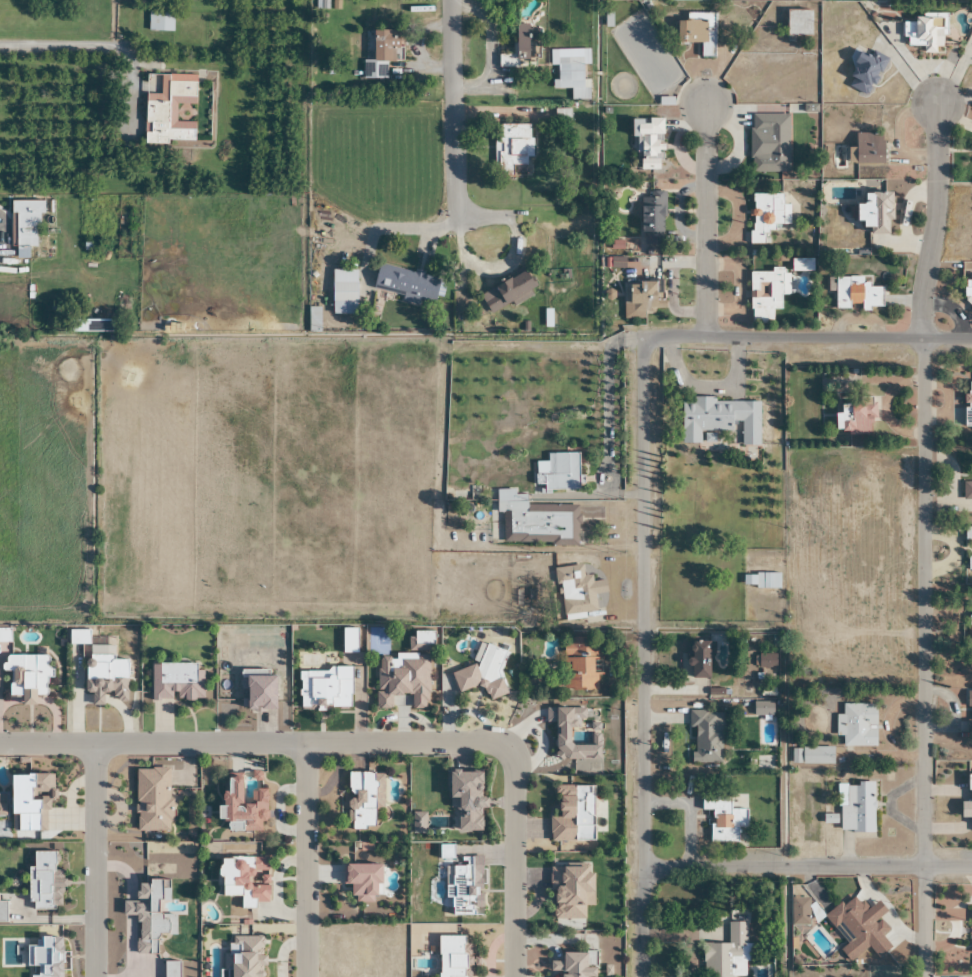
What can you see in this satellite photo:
building: (160, 21)
building: (798, 23)
building: (693, 29)
building: (925, 32)
road: (101, 44)
building: (518, 49)
building: (382, 53)
building: (864, 73)
building: (571, 78)
building: (167, 108)
road: (455, 112)
building: (646, 144)
building: (767, 145)
building: (513, 146)
building: (868, 149)
building: (874, 213)
building: (765, 216)
building: (651, 220)
road: (708, 220)
building: (24, 224)
road: (450, 224)
building: (406, 285)
building: (765, 289)
building: (967, 290)
building: (507, 293)
building: (854, 293)
building: (641, 296)
building: (343, 298)
road: (807, 338)
building: (968, 404)
building: (854, 417)
building: (720, 419)
building: (559, 473)
building: (967, 491)
building: (534, 521)
building: (967, 536)
road: (925, 539)
building: (969, 562)
building: (760, 581)
building: (574, 593)
building: (970, 624)
building: (4, 635)
building: (421, 640)
road: (642, 658)
building: (697, 659)
building: (765, 661)
building: (580, 662)
building: (482, 673)
building: (26, 676)
building: (105, 678)
building: (402, 679)
building: (176, 681)
building: (963, 693)
building: (763, 709)
building: (857, 725)
building: (562, 736)
building: (706, 737)
road: (369, 741)
building: (811, 755)
building: (363, 798)
building: (152, 799)
building: (967, 799)
building: (465, 800)
building: (28, 802)
road: (782, 804)
building: (243, 805)
building: (855, 807)
building: (573, 813)
building: (724, 820)
road: (305, 859)
road: (93, 860)
road: (806, 867)
building: (244, 879)
building: (362, 881)
building: (570, 891)
building: (856, 925)
building: (971, 930)
building: (727, 953)
building: (244, 956)
building: (451, 956)
building: (574, 965)

